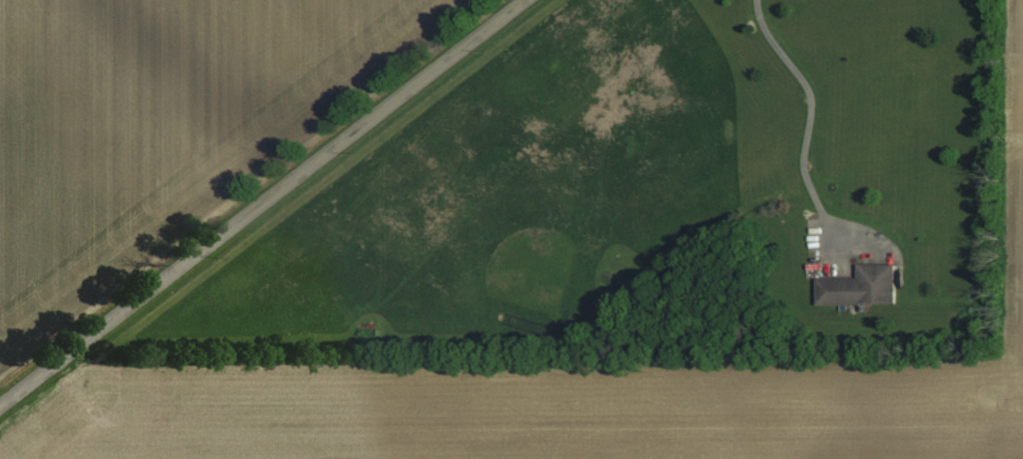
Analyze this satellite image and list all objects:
road: (808, 102)
road: (261, 202)
building: (861, 287)

